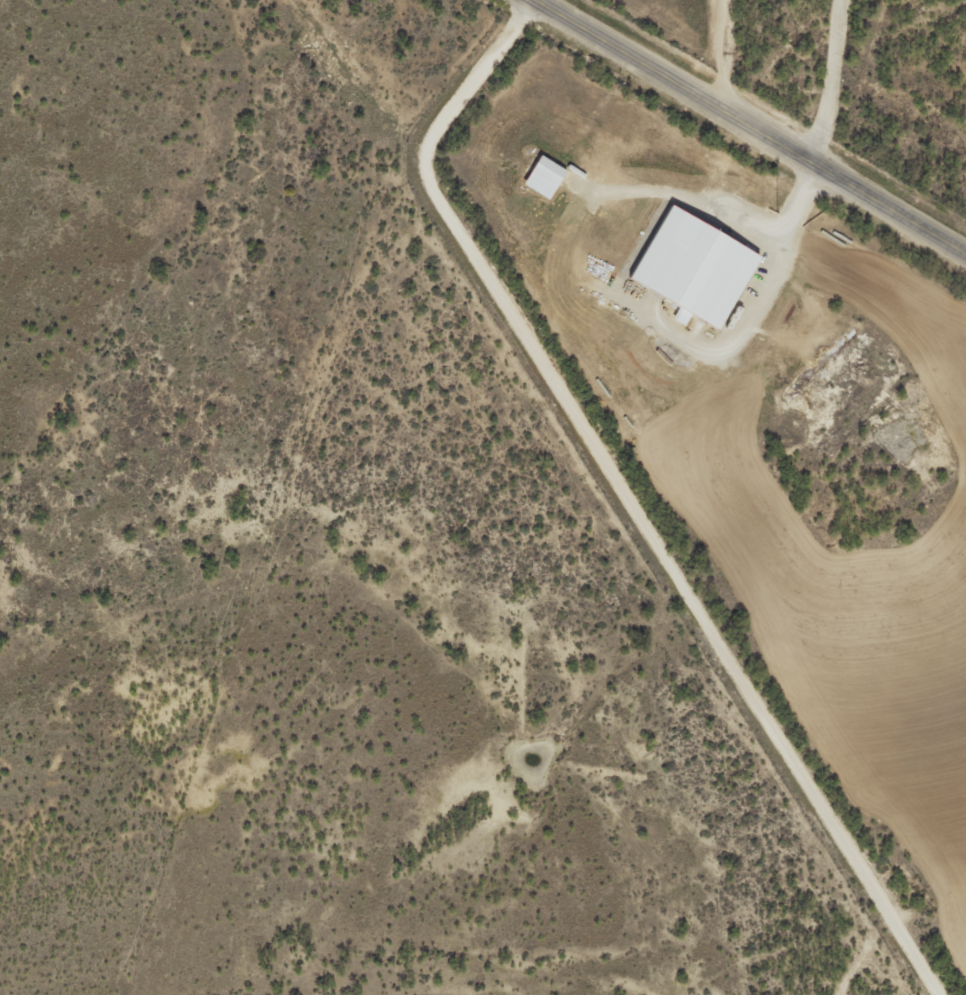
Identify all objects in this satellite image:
road: (715, 64)
road: (731, 137)
building: (544, 174)
building: (694, 261)
road: (612, 510)

